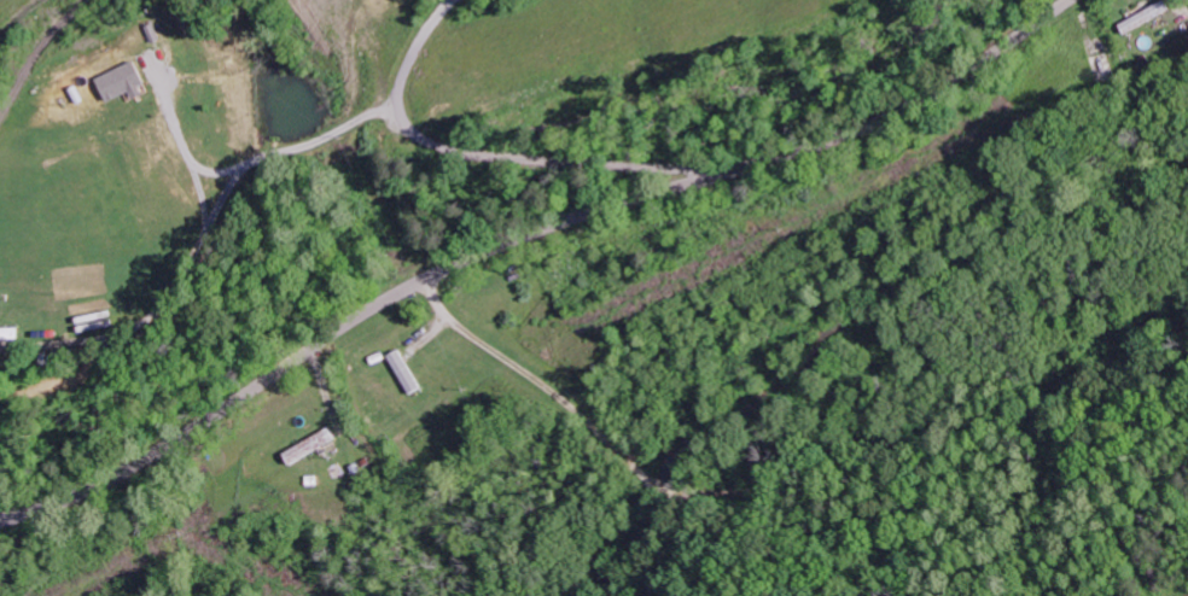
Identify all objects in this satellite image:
building: (1147, 17)
building: (124, 81)
road: (516, 236)
building: (12, 334)
building: (407, 372)

